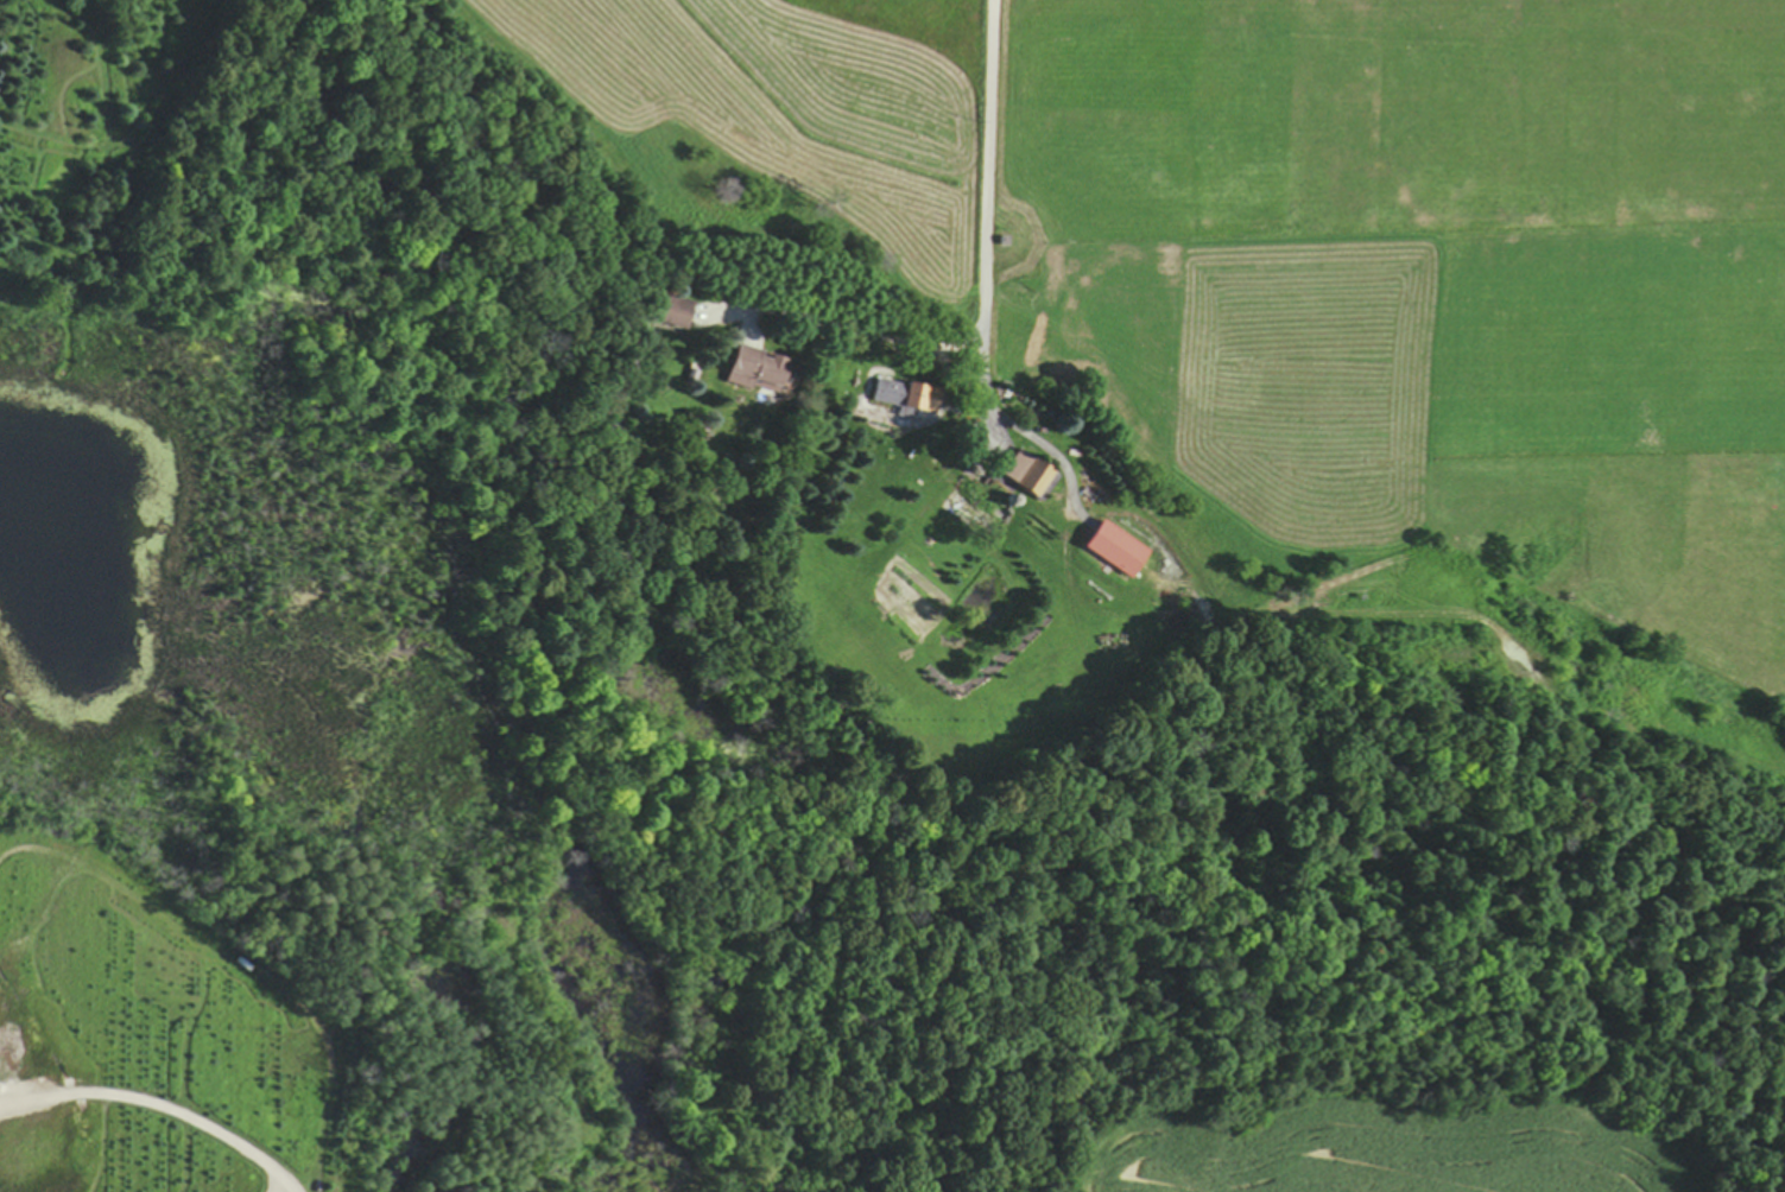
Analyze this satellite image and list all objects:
road: (992, 210)
building: (673, 311)
road: (860, 324)
building: (754, 367)
building: (904, 395)
building: (1031, 476)
building: (1114, 549)

